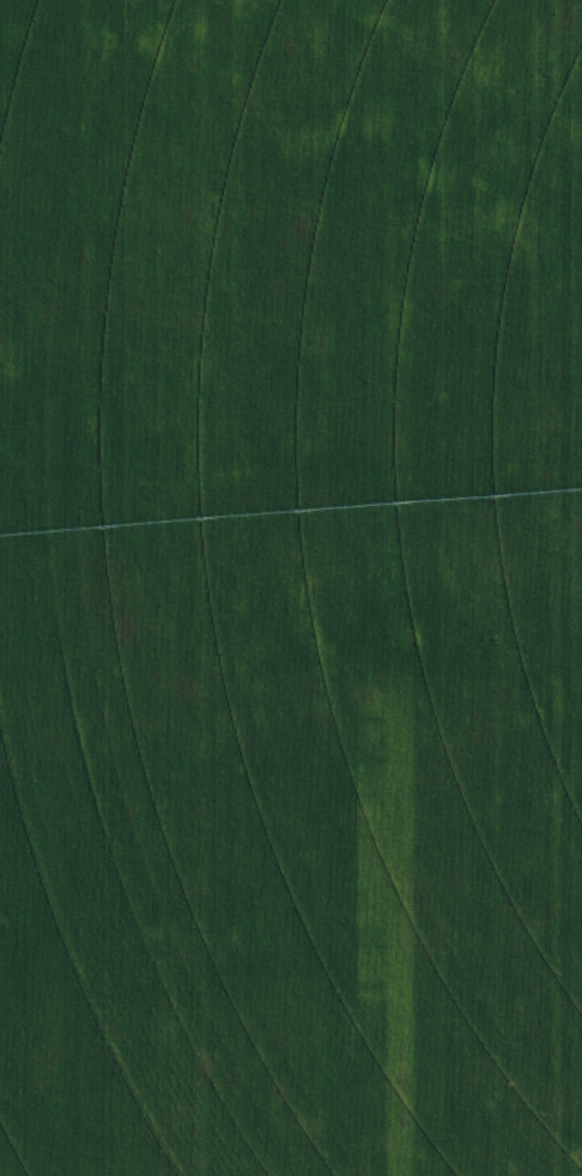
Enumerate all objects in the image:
crop: (291, 587)

